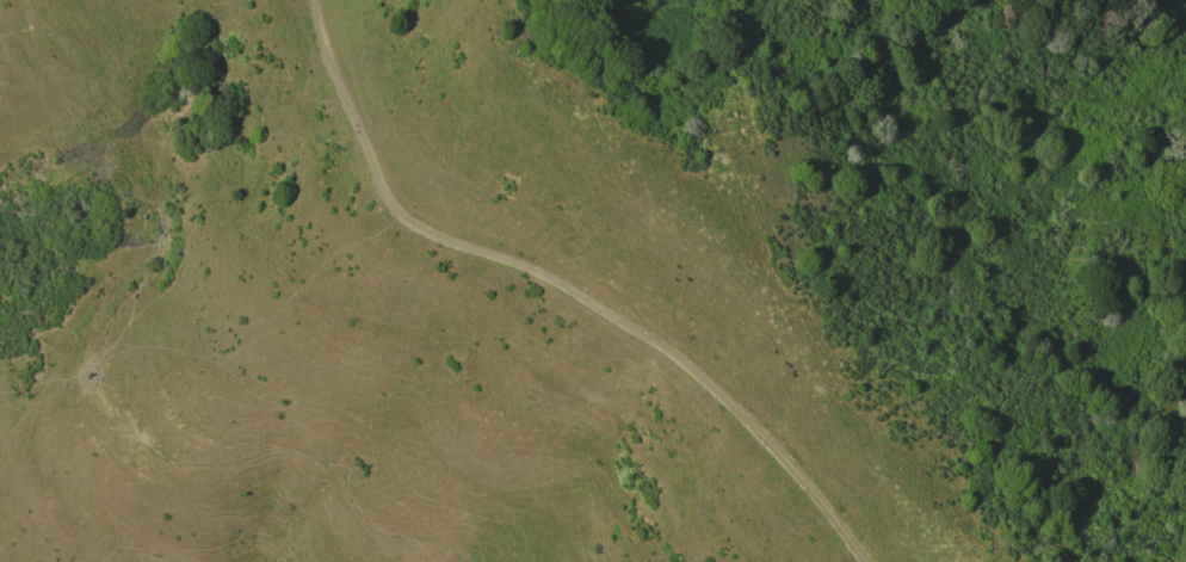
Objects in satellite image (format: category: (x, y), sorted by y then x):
road: (563, 284)

